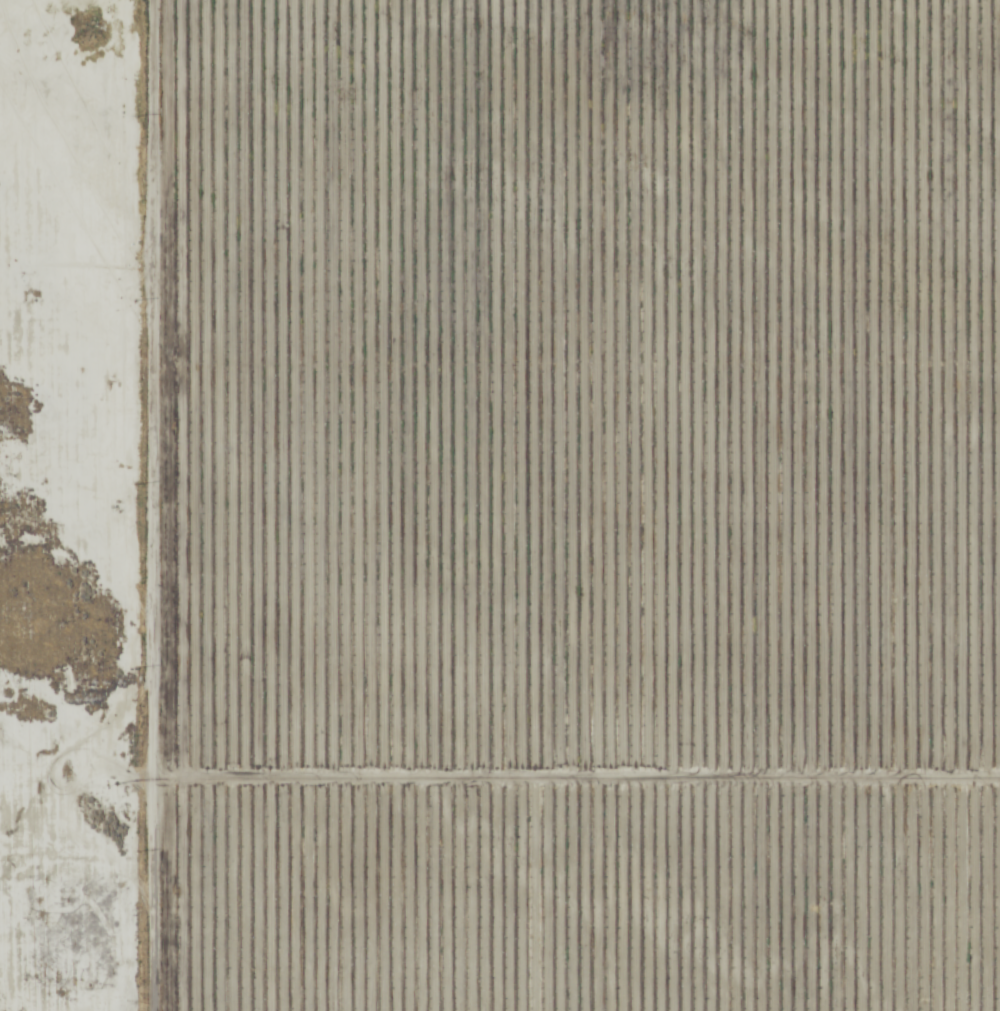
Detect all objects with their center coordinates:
road: (142, 505)

